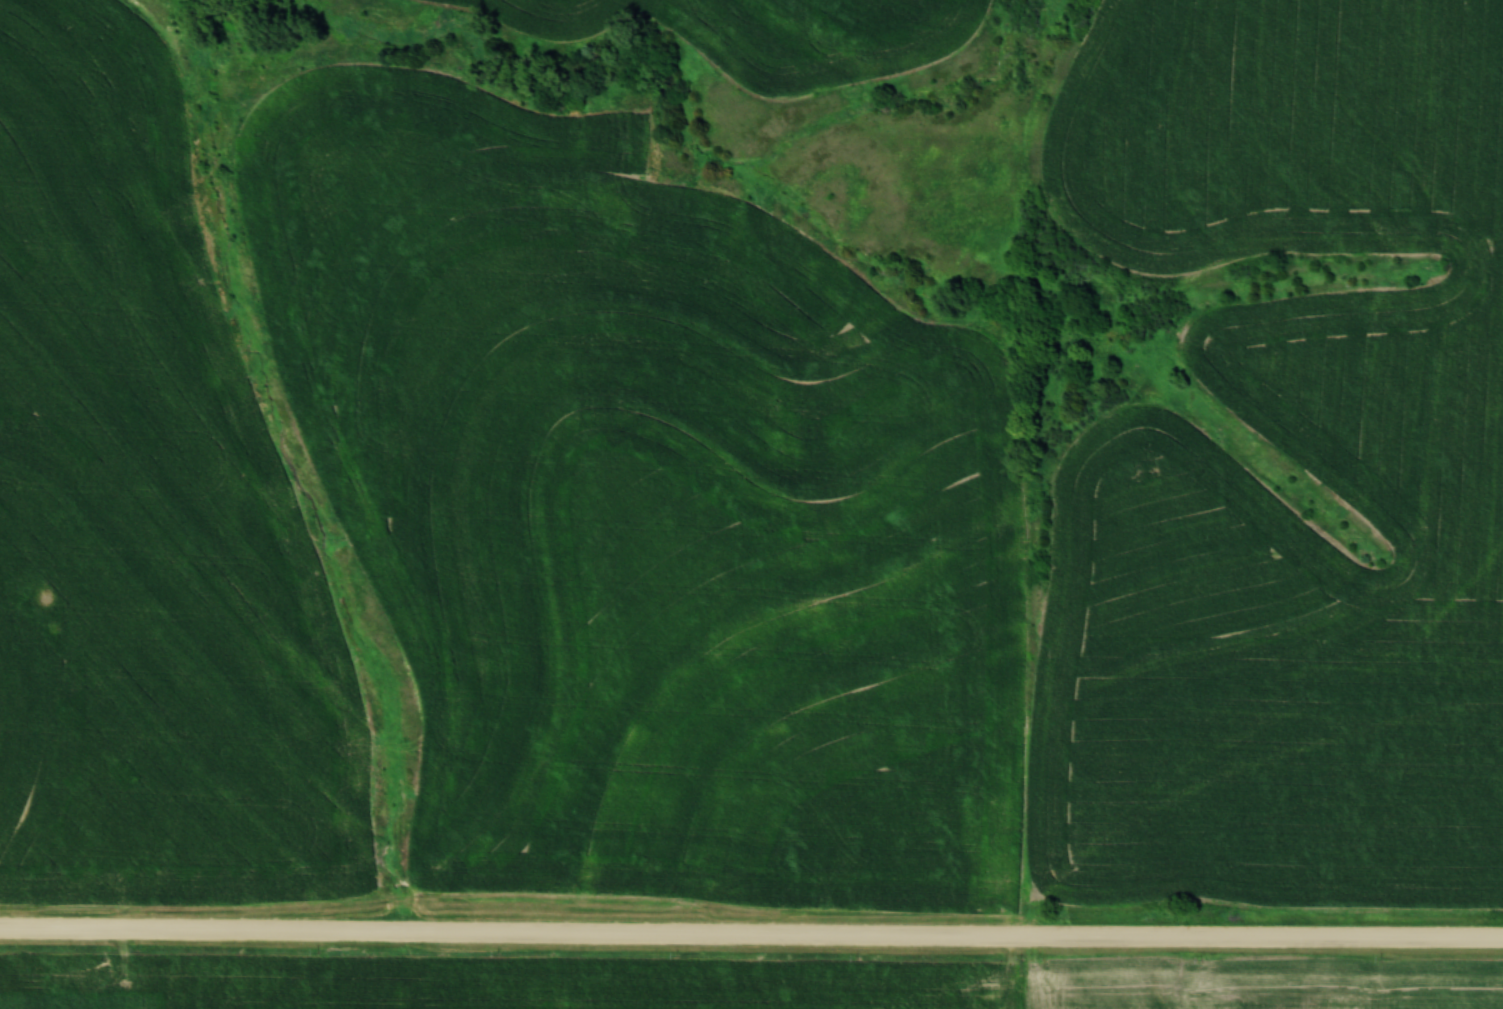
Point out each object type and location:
road: (751, 937)

